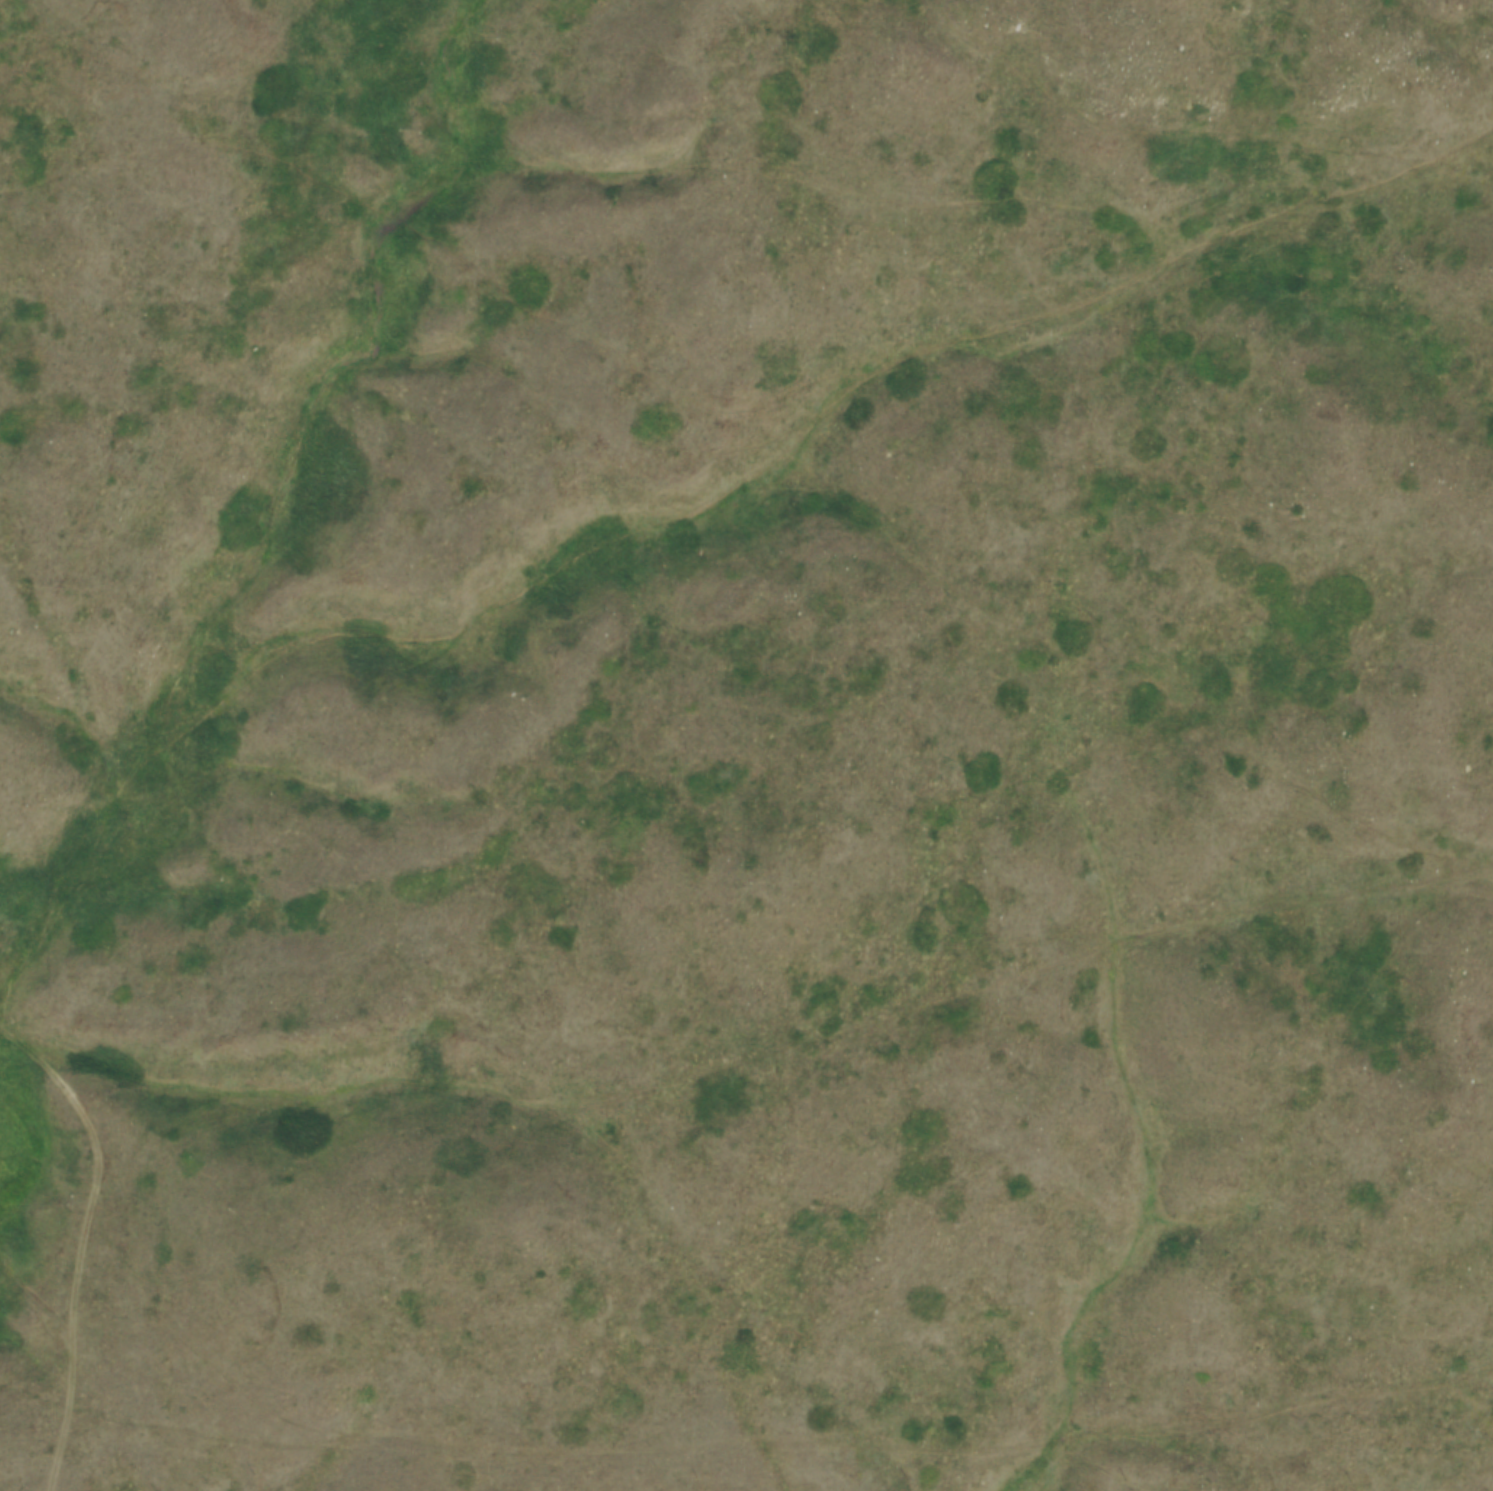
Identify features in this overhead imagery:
road: (86, 1239)

